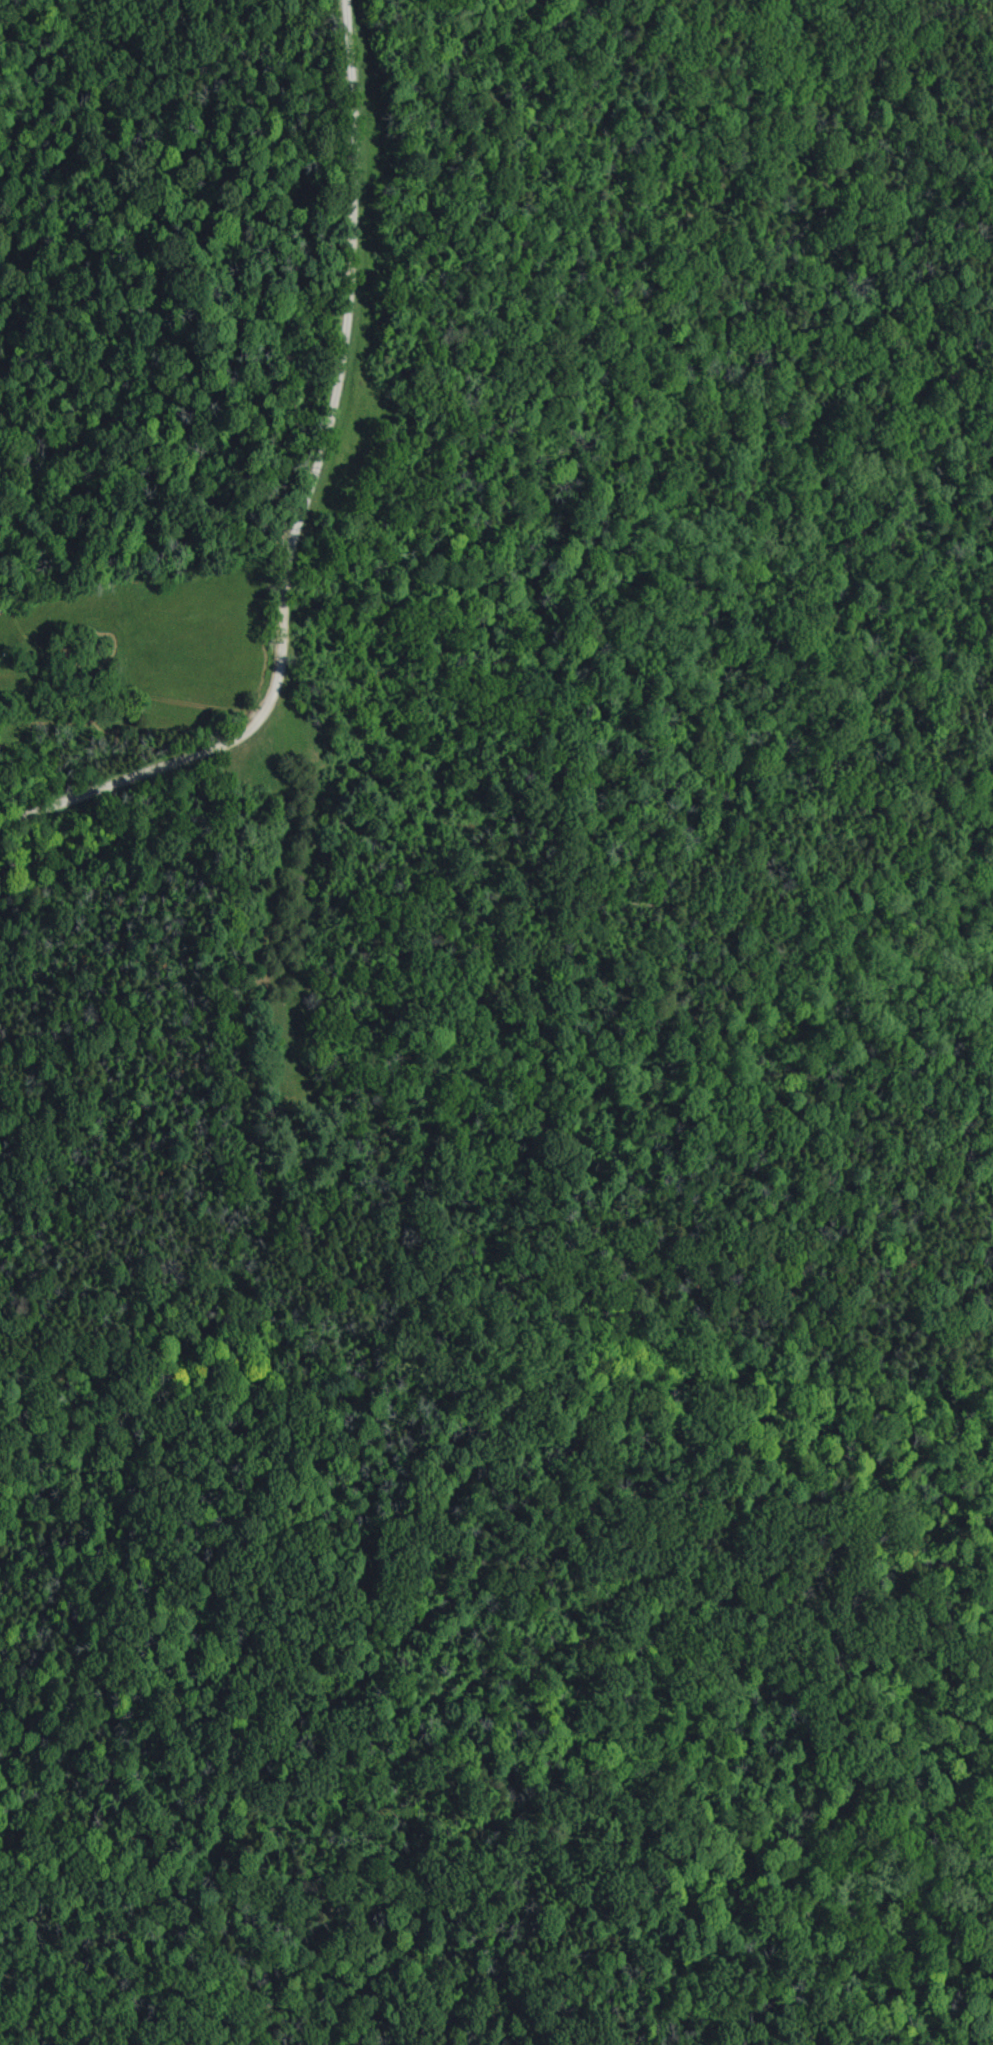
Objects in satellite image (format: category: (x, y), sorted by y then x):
road: (310, 497)

